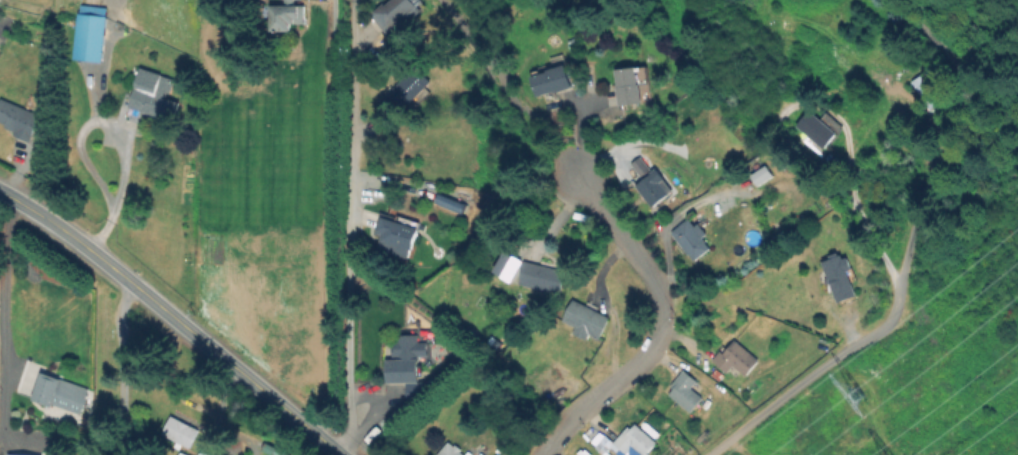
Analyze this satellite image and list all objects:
building: (0, 0)
building: (396, 12)
building: (287, 15)
building: (91, 33)
building: (552, 81)
building: (629, 86)
building: (407, 88)
building: (154, 95)
building: (19, 119)
road: (844, 125)
road: (109, 126)
building: (820, 128)
building: (640, 164)
building: (762, 175)
building: (656, 188)
building: (819, 205)
road: (331, 220)
road: (349, 226)
building: (789, 233)
building: (396, 234)
building: (692, 238)
road: (915, 255)
building: (542, 277)
building: (839, 277)
road: (4, 288)
road: (174, 317)
building: (586, 320)
road: (658, 326)
building: (736, 358)
building: (404, 360)
road: (122, 365)
power tower: (856, 390)
building: (685, 391)
building: (62, 394)
building: (406, 407)
building: (180, 432)
building: (633, 440)
building: (451, 450)
building: (277, 451)
building: (507, 452)
road: (737, 452)
building: (182, 453)
building: (204, 453)
building: (20, 454)
building: (177, 454)
building: (482, 454)
building: (501, 454)

